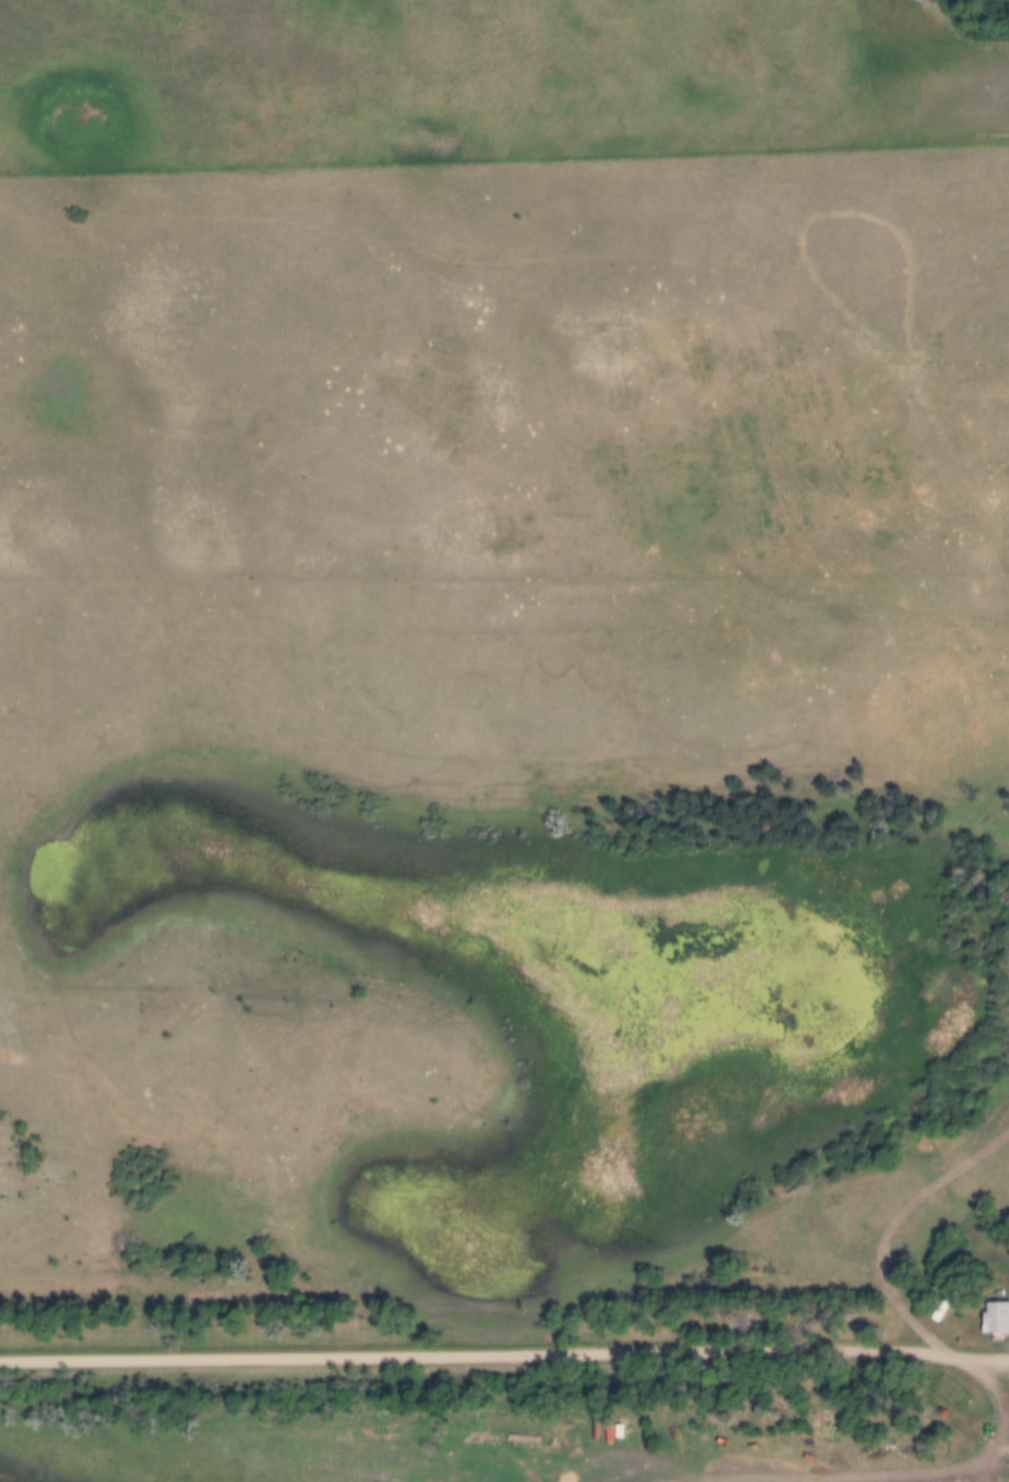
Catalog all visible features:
building: (997, 1319)
road: (505, 1354)

